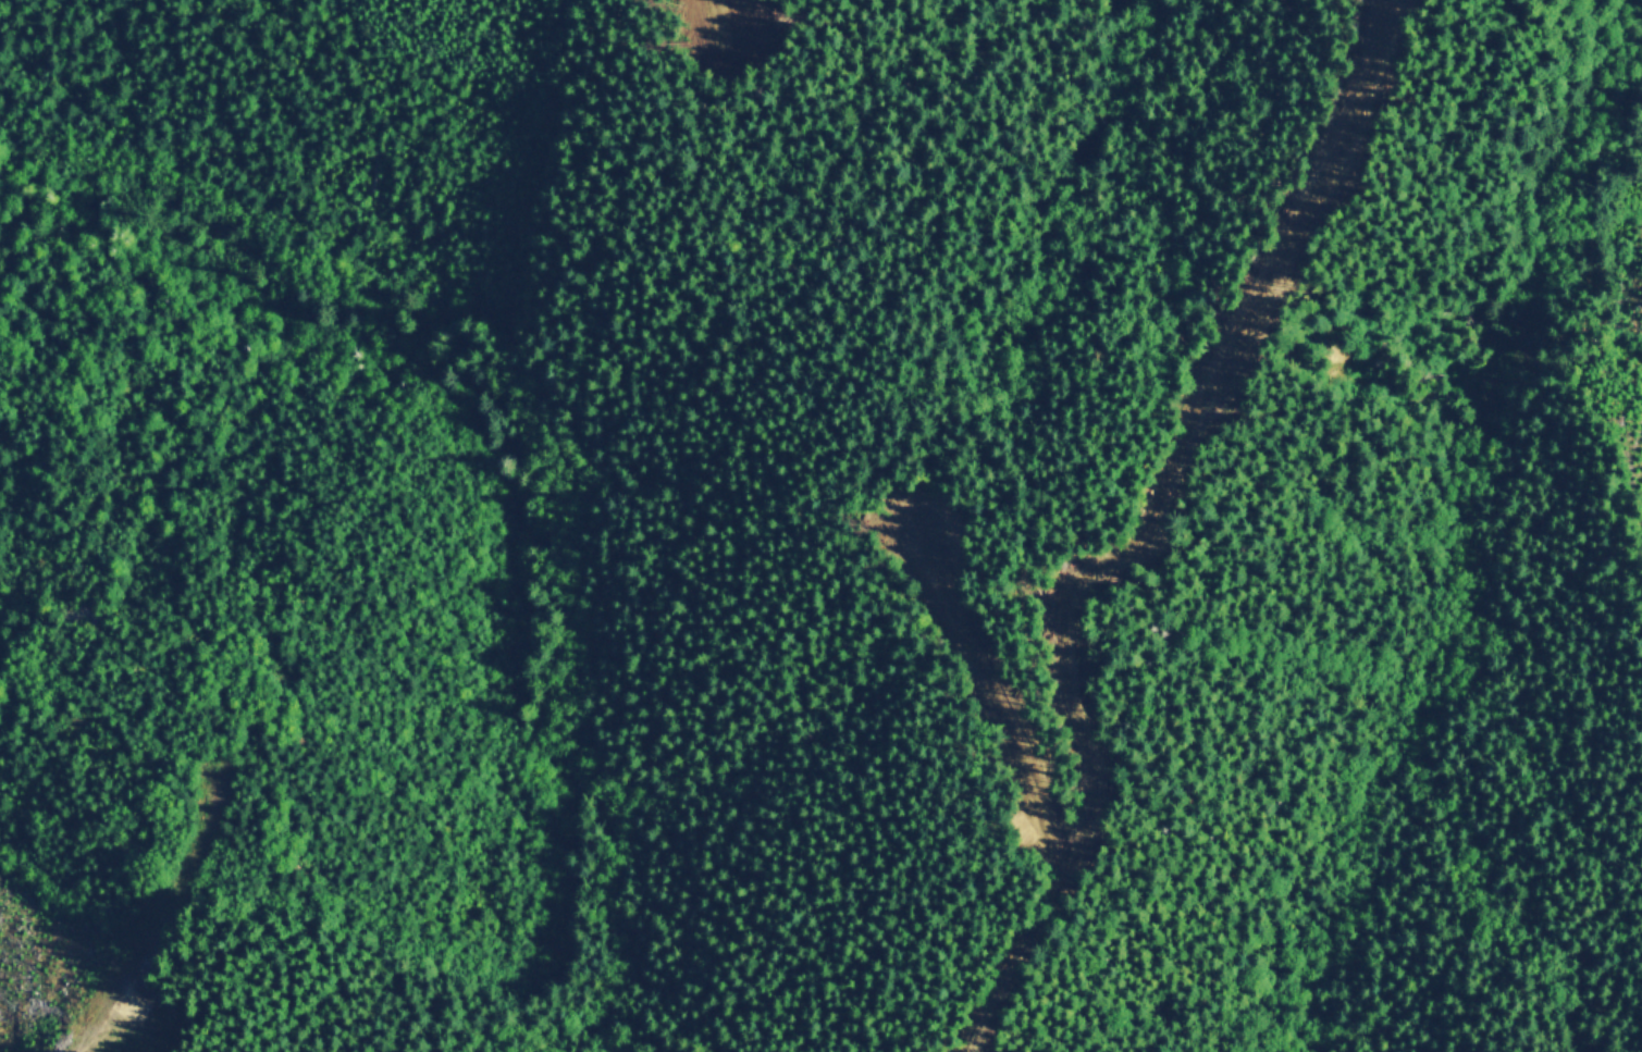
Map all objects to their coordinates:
road: (1072, 854)

